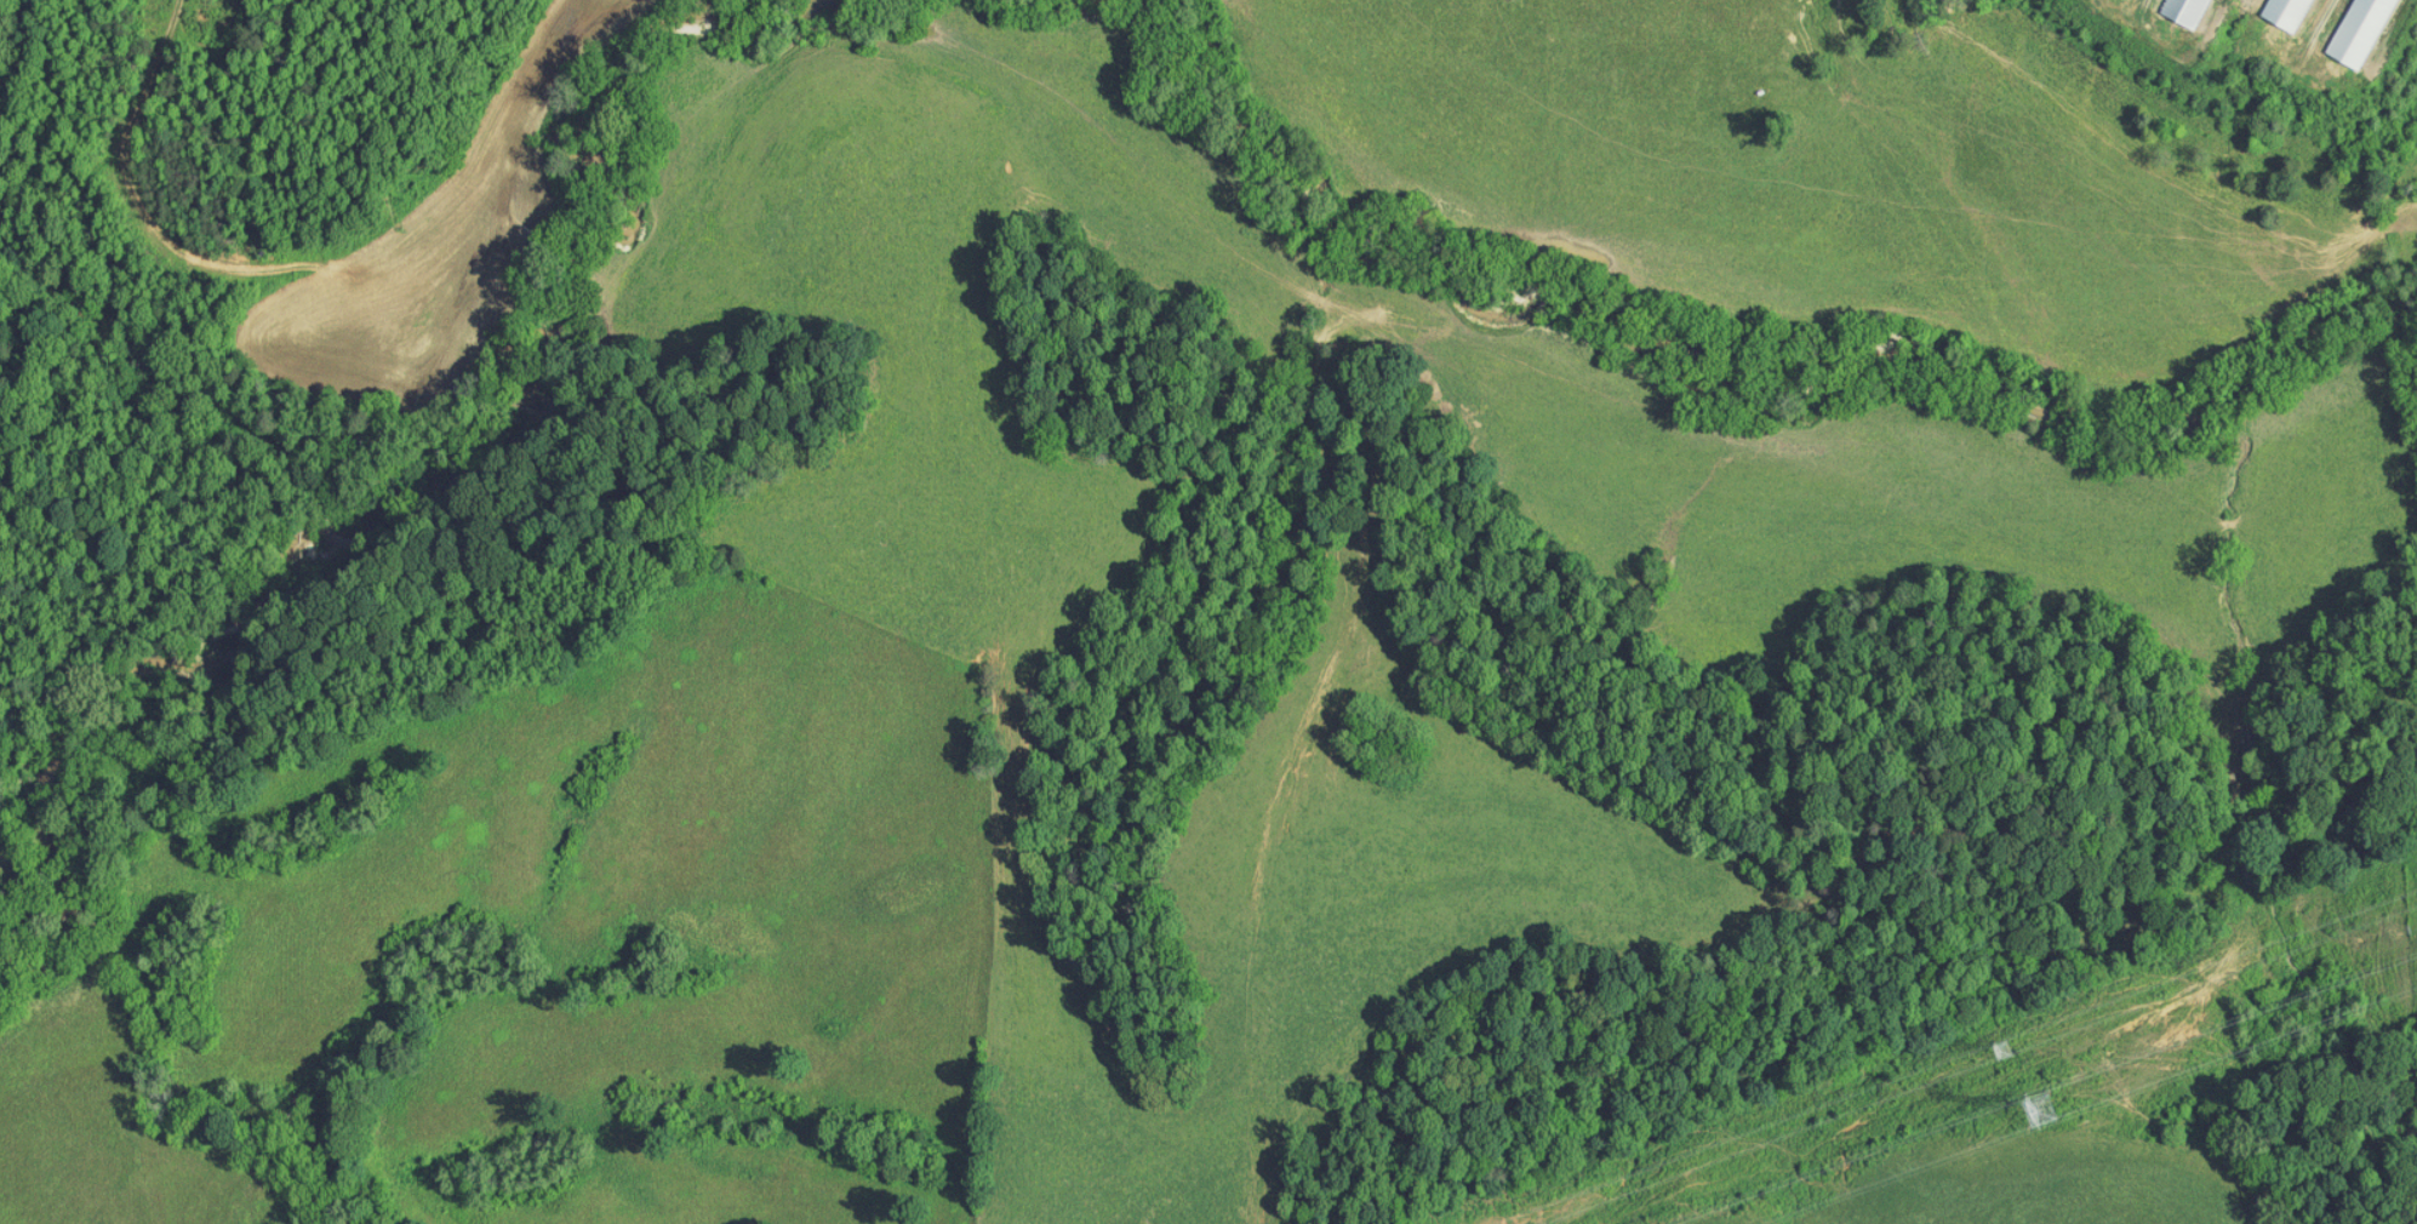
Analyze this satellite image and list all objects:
building: (2178, 8)
building: (2276, 10)
building: (2347, 28)
power tower: (2004, 1052)
power tower: (2035, 1108)

